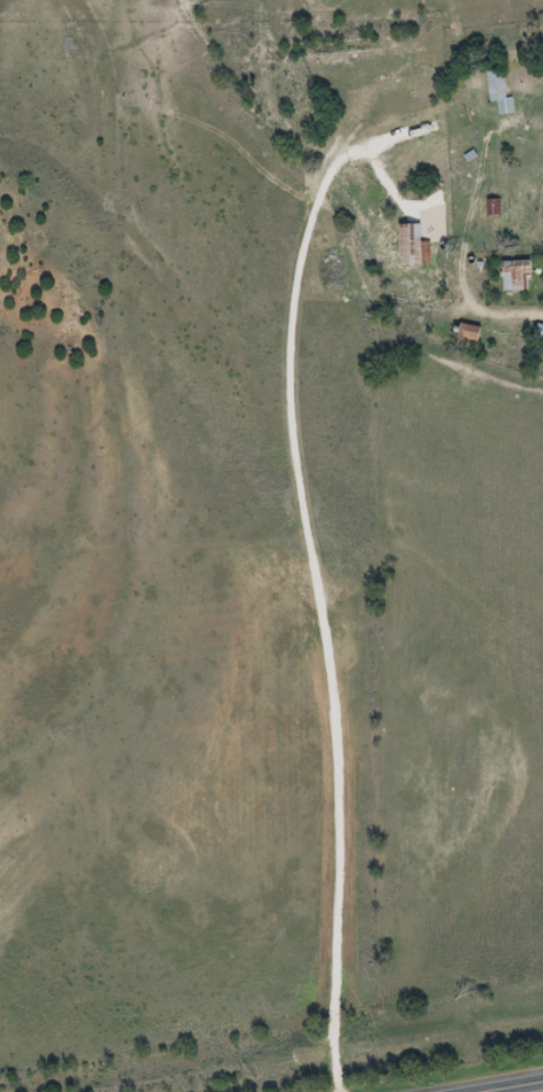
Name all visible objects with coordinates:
building: (499, 91)
road: (389, 182)
building: (493, 208)
building: (522, 222)
building: (411, 246)
building: (511, 276)
building: (539, 333)
building: (465, 336)
road: (317, 589)
road: (163, 649)
road: (320, 673)
road: (21, 770)
road: (49, 901)
road: (518, 1088)

